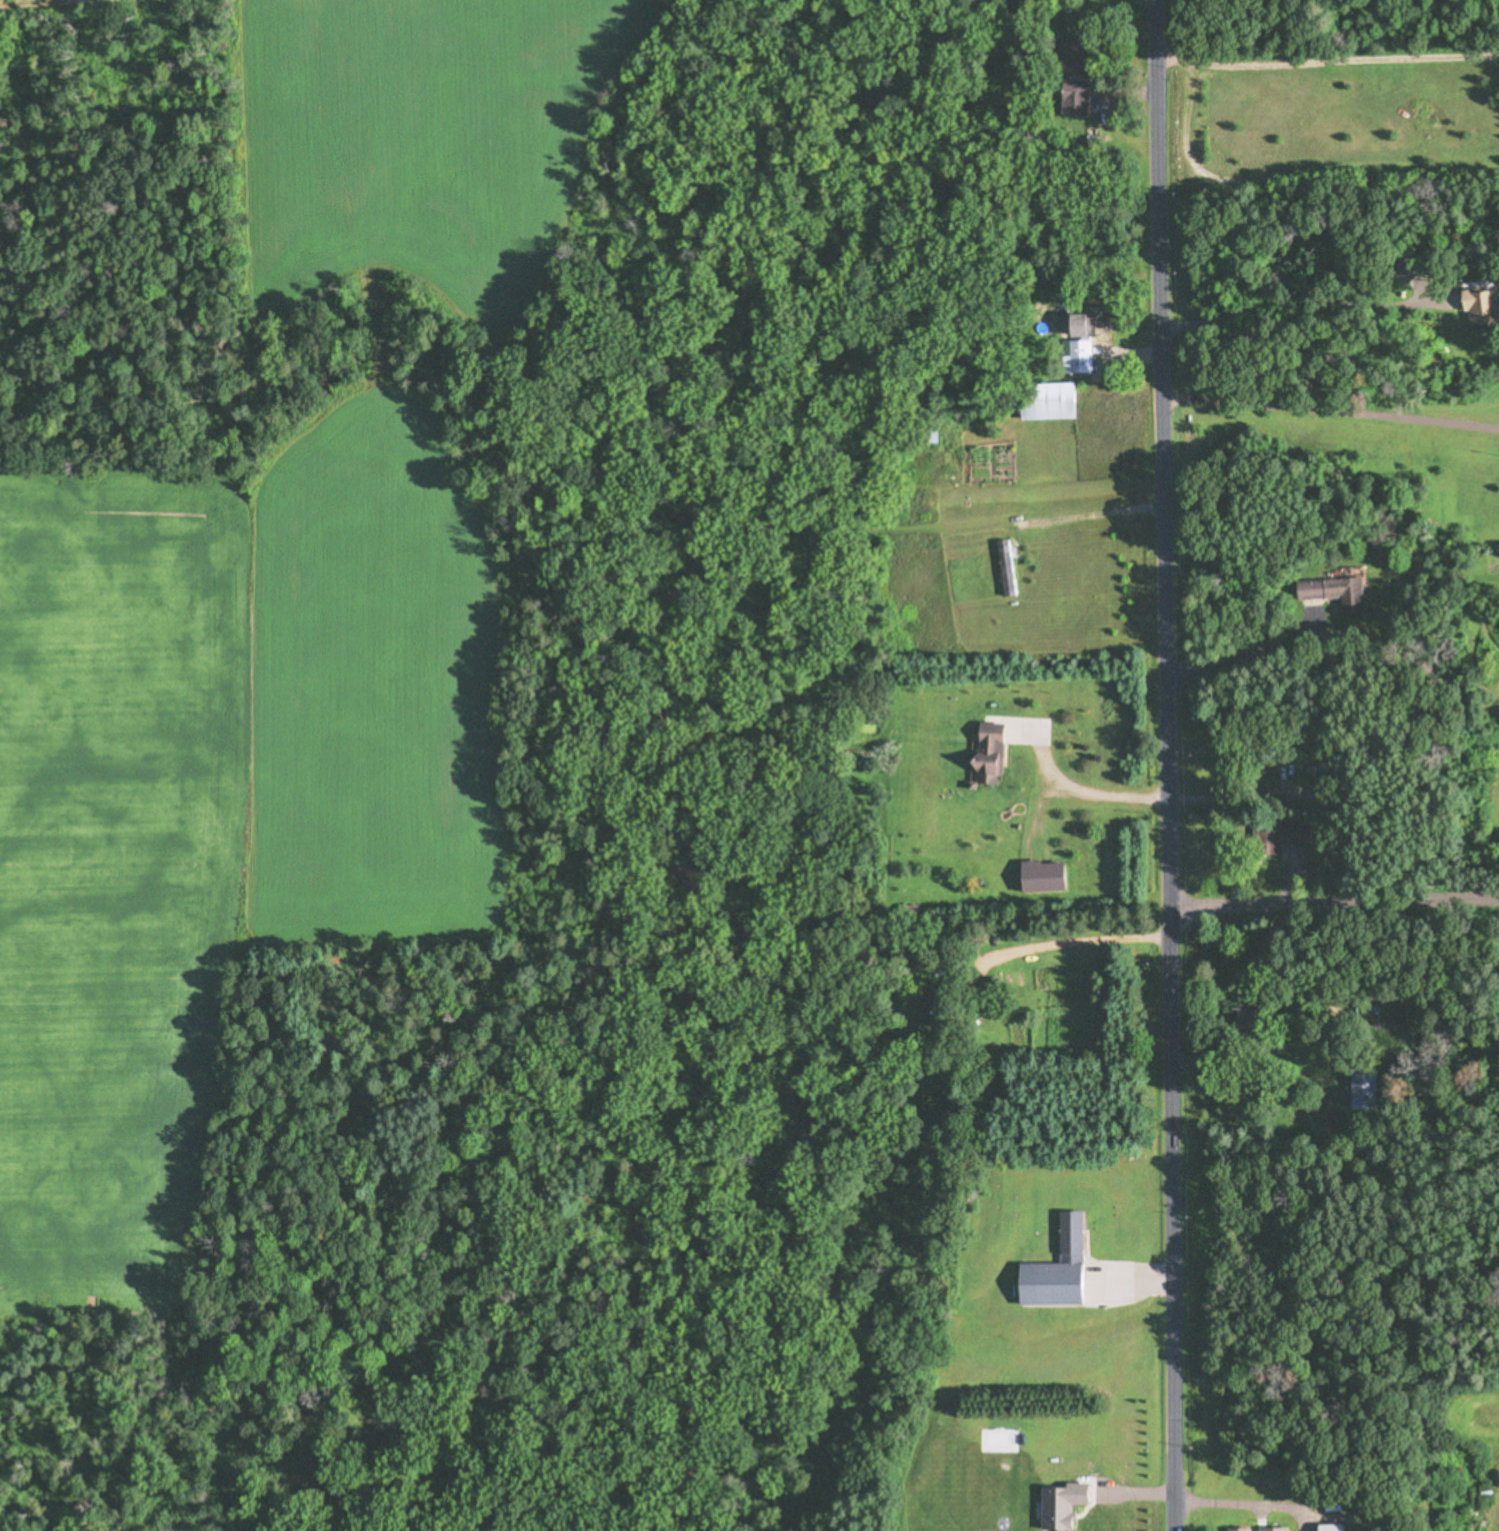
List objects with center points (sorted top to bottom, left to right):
building: (1064, 52)
road: (1328, 79)
building: (1066, 98)
crop: (421, 135)
building: (1477, 307)
building: (1088, 321)
building: (1071, 357)
building: (1038, 402)
road: (1331, 412)
building: (918, 436)
building: (1003, 567)
building: (1329, 591)
building: (980, 756)
road: (1168, 765)
crop: (219, 813)
building: (1274, 837)
road: (1334, 899)
building: (1240, 1018)
building: (1358, 1088)
building: (1051, 1268)
building: (1236, 1529)

